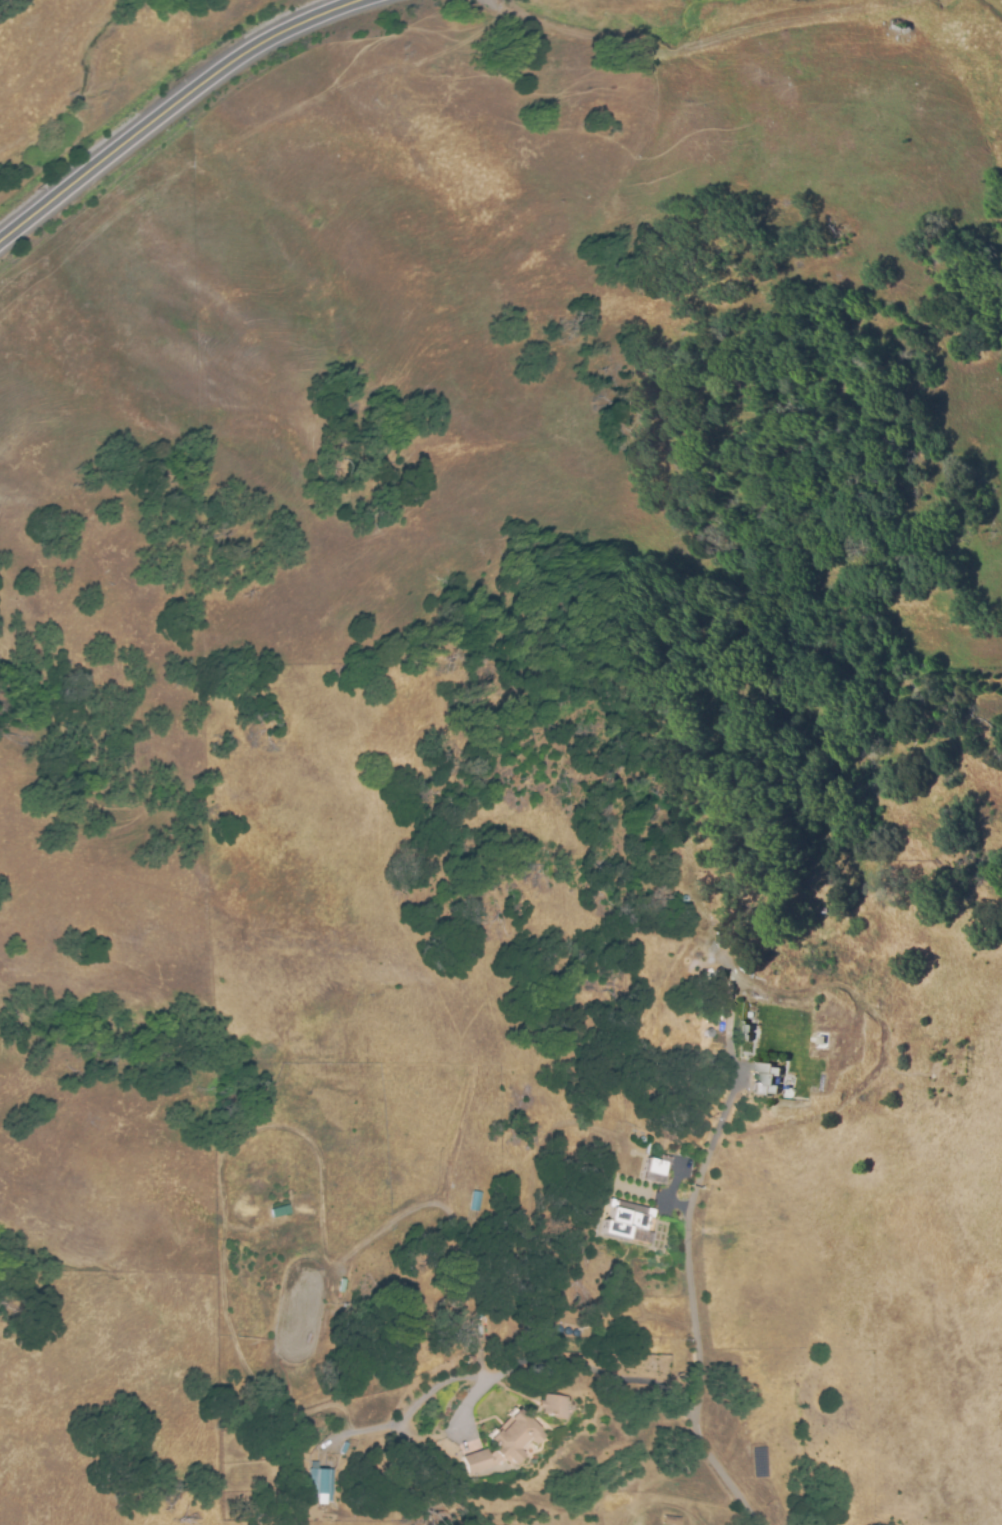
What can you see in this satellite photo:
road: (170, 104)
building: (704, 918)
building: (708, 1031)
building: (745, 1032)
building: (803, 1048)
building: (766, 1078)
building: (475, 1198)
building: (627, 1221)
road: (695, 1301)
road: (505, 1367)
building: (557, 1397)
building: (506, 1438)
building: (320, 1486)

